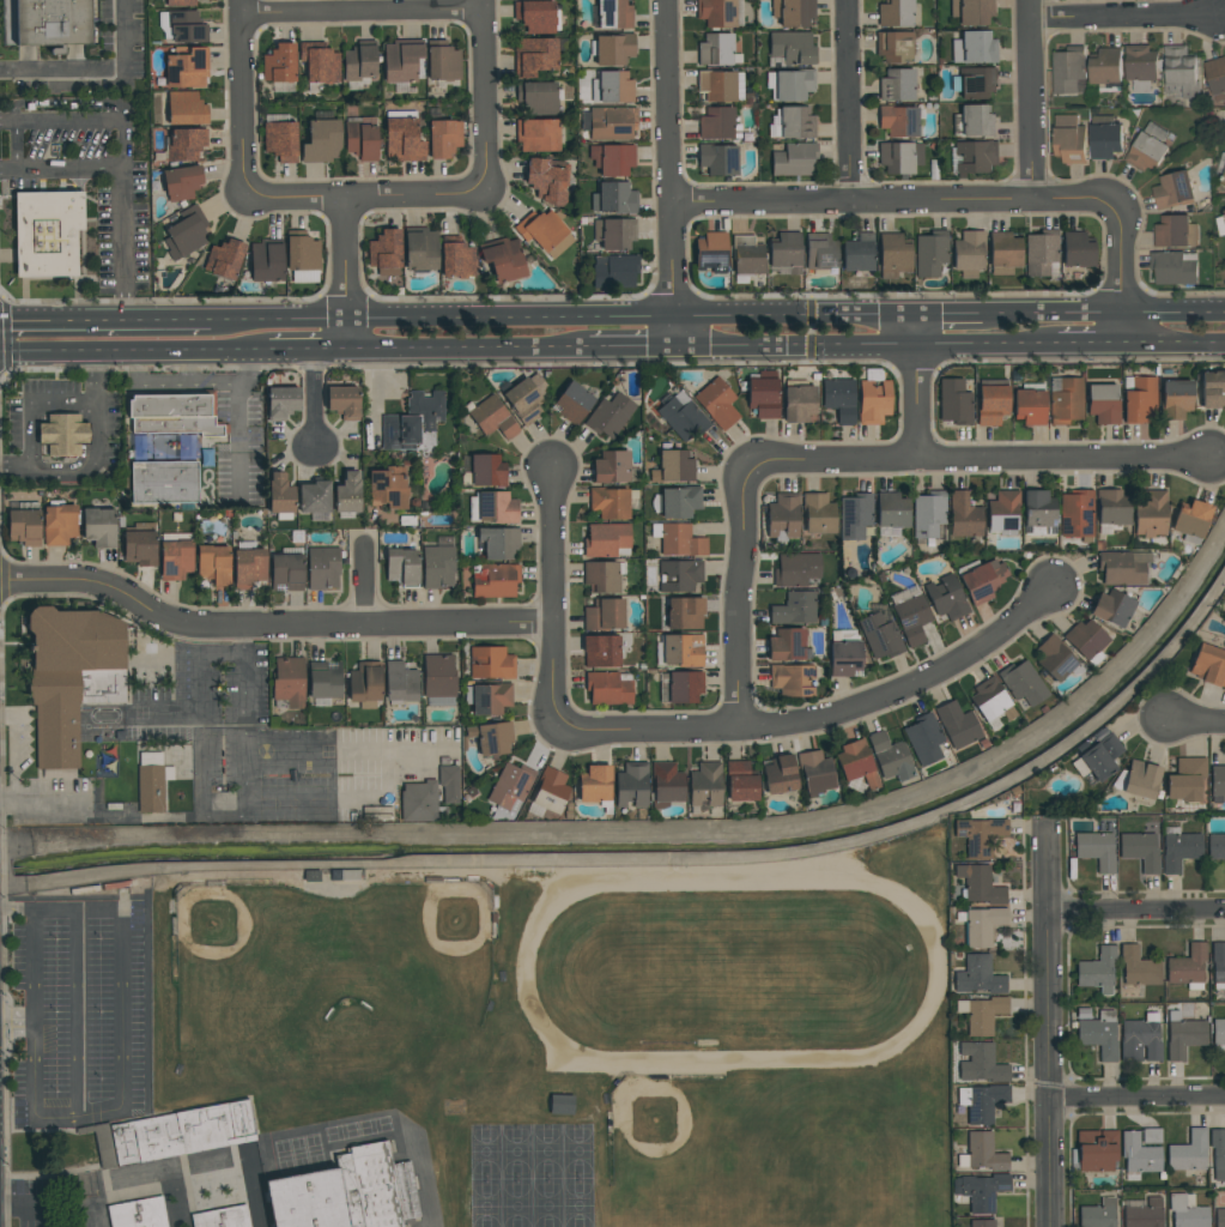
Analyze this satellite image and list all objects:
building: (180, 2)
building: (971, 11)
road: (363, 12)
building: (793, 12)
building: (720, 13)
building: (895, 13)
building: (613, 14)
road: (1124, 16)
building: (536, 17)
building: (51, 22)
building: (182, 26)
building: (895, 47)
building: (974, 48)
building: (613, 49)
building: (715, 49)
building: (790, 49)
building: (534, 56)
building: (401, 60)
building: (359, 61)
building: (320, 62)
building: (279, 64)
building: (443, 64)
building: (1141, 66)
building: (187, 67)
building: (1068, 68)
building: (1106, 68)
road: (92, 71)
building: (1181, 71)
building: (1217, 75)
building: (975, 83)
building: (790, 84)
building: (720, 85)
building: (897, 85)
building: (612, 87)
road: (484, 96)
road: (244, 97)
building: (538, 97)
road: (1032, 99)
road: (850, 101)
building: (186, 108)
building: (899, 120)
building: (974, 121)
road: (83, 122)
building: (608, 122)
building: (796, 122)
building: (718, 123)
building: (536, 135)
building: (402, 137)
building: (1105, 137)
building: (362, 138)
building: (443, 138)
building: (1069, 138)
building: (280, 140)
building: (321, 141)
building: (184, 144)
building: (1148, 147)
building: (899, 157)
building: (975, 157)
building: (612, 158)
building: (717, 158)
building: (794, 159)
road: (62, 168)
road: (668, 174)
building: (547, 179)
building: (1224, 180)
building: (182, 182)
building: (1174, 189)
road: (366, 195)
building: (614, 198)
road: (892, 200)
building: (545, 231)
building: (1176, 231)
building: (47, 232)
building: (186, 232)
building: (614, 234)
road: (126, 246)
building: (420, 249)
building: (1078, 249)
building: (711, 252)
building: (784, 252)
building: (386, 253)
building: (820, 253)
building: (930, 253)
building: (969, 253)
building: (1003, 253)
building: (1042, 254)
building: (859, 255)
building: (893, 255)
building: (303, 256)
building: (746, 256)
building: (456, 258)
building: (224, 259)
building: (503, 259)
building: (266, 260)
building: (1174, 266)
building: (614, 271)
road: (344, 273)
road: (1121, 277)
road: (1104, 314)
road: (951, 316)
road: (562, 320)
road: (63, 324)
road: (166, 324)
road: (809, 331)
road: (1175, 345)
road: (897, 349)
road: (468, 350)
road: (631, 350)
road: (311, 351)
road: (138, 352)
road: (917, 387)
building: (1212, 389)
building: (763, 395)
building: (873, 397)
building: (524, 398)
building: (839, 398)
building: (1139, 399)
building: (1175, 399)
building: (1065, 400)
building: (281, 401)
building: (344, 401)
building: (798, 401)
building: (954, 401)
road: (315, 403)
building: (572, 403)
building: (717, 403)
building: (991, 404)
building: (1030, 404)
building: (1103, 404)
building: (175, 415)
building: (610, 415)
building: (681, 416)
building: (492, 417)
road: (237, 419)
building: (413, 422)
building: (63, 435)
road: (95, 457)
road: (980, 459)
building: (611, 467)
building: (673, 467)
building: (487, 471)
building: (164, 483)
building: (388, 488)
building: (347, 495)
building: (280, 496)
building: (314, 500)
building: (680, 501)
building: (611, 502)
building: (493, 507)
building: (891, 510)
building: (1111, 510)
building: (1003, 512)
building: (818, 513)
building: (1038, 513)
building: (1150, 513)
building: (1077, 514)
building: (855, 515)
building: (964, 515)
building: (783, 516)
building: (928, 516)
building: (1190, 520)
building: (59, 522)
building: (24, 524)
building: (99, 526)
building: (679, 539)
building: (607, 540)
building: (498, 542)
building: (140, 544)
building: (176, 556)
building: (213, 564)
building: (248, 564)
building: (322, 567)
building: (401, 567)
building: (438, 567)
building: (1123, 568)
building: (287, 569)
building: (796, 569)
building: (679, 575)
building: (602, 576)
building: (495, 580)
building: (981, 580)
road: (364, 588)
road: (741, 596)
building: (946, 598)
road: (551, 603)
building: (1111, 608)
building: (794, 609)
building: (685, 612)
building: (604, 615)
building: (910, 615)
road: (269, 628)
building: (880, 636)
road: (244, 641)
building: (1086, 641)
building: (787, 645)
building: (601, 651)
building: (683, 651)
building: (844, 653)
building: (1054, 658)
building: (491, 663)
building: (1208, 665)
building: (72, 678)
building: (792, 679)
building: (439, 681)
building: (289, 682)
building: (323, 682)
building: (1021, 682)
building: (400, 683)
building: (365, 684)
building: (684, 687)
building: (610, 688)
building: (487, 697)
building: (990, 700)
road: (199, 714)
road: (820, 715)
road: (1196, 720)
building: (957, 724)
building: (491, 738)
building: (923, 739)
road: (16, 751)
road: (245, 757)
building: (890, 757)
building: (1098, 758)
building: (856, 763)
road: (388, 770)
building: (814, 773)
building: (780, 774)
building: (1138, 779)
building: (1185, 779)
building: (740, 781)
building: (151, 782)
building: (449, 784)
building: (631, 784)
building: (1217, 784)
building: (666, 785)
building: (705, 785)
building: (595, 786)
building: (510, 790)
building: (548, 792)
building: (418, 802)
road: (99, 812)
building: (980, 835)
building: (1217, 846)
building: (1178, 848)
building: (1096, 850)
building: (1140, 850)
building: (978, 884)
track: (890, 893)
road: (77, 911)
road: (17, 912)
road: (1135, 913)
building: (983, 925)
building: (1218, 965)
building: (1139, 967)
building: (1188, 967)
building: (1098, 971)
building: (978, 975)
road: (122, 1007)
parking lot: (79, 1009)
road: (80, 1014)
building: (982, 1014)
road: (34, 1015)
road: (1048, 1029)
building: (1219, 1032)
building: (1099, 1034)
building: (1183, 1035)
building: (1140, 1039)
building: (981, 1063)
road: (1136, 1099)
building: (982, 1102)
building: (562, 1105)
road: (80, 1117)
building: (184, 1132)
building: (1096, 1150)
building: (1188, 1152)
building: (982, 1153)
building: (1218, 1153)
building: (1138, 1155)
road: (229, 1160)
park: (533, 1175)
road: (51, 1177)
road: (426, 1180)
building: (375, 1186)
building: (981, 1191)
building: (308, 1201)
parking lot: (30, 1202)
road: (24, 1205)
building: (1187, 1211)
building: (139, 1214)
building: (1098, 1214)
building: (1144, 1214)
building: (224, 1217)
building: (1220, 1217)
building: (982, 1223)

